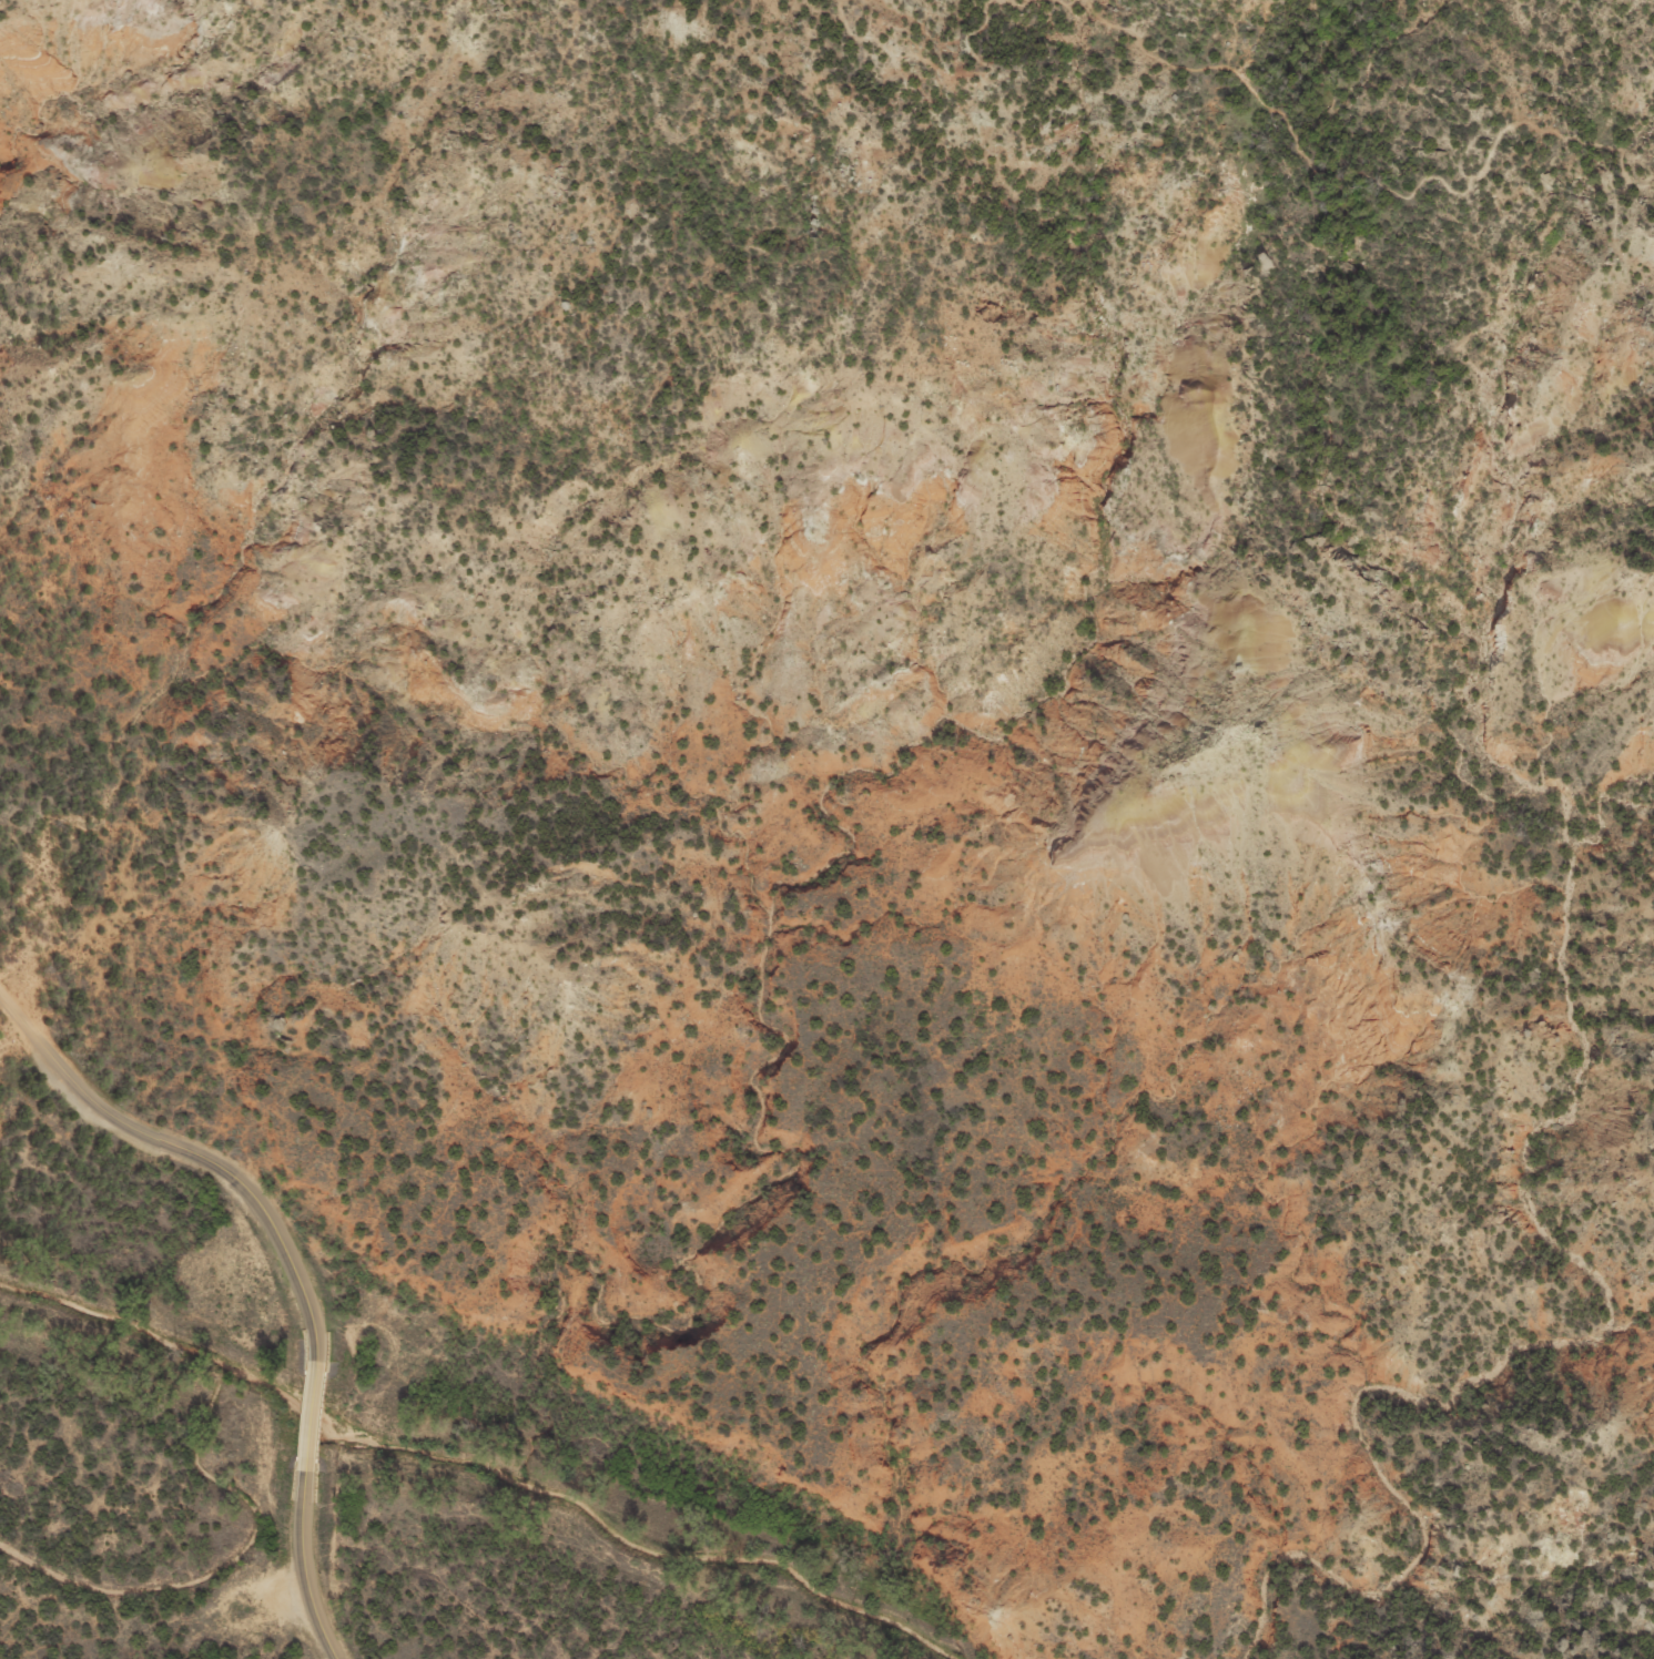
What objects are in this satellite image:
road: (940, 67)
road: (1387, 187)
road: (199, 1154)
road: (314, 1415)
river: (483, 1464)
road: (305, 1560)

